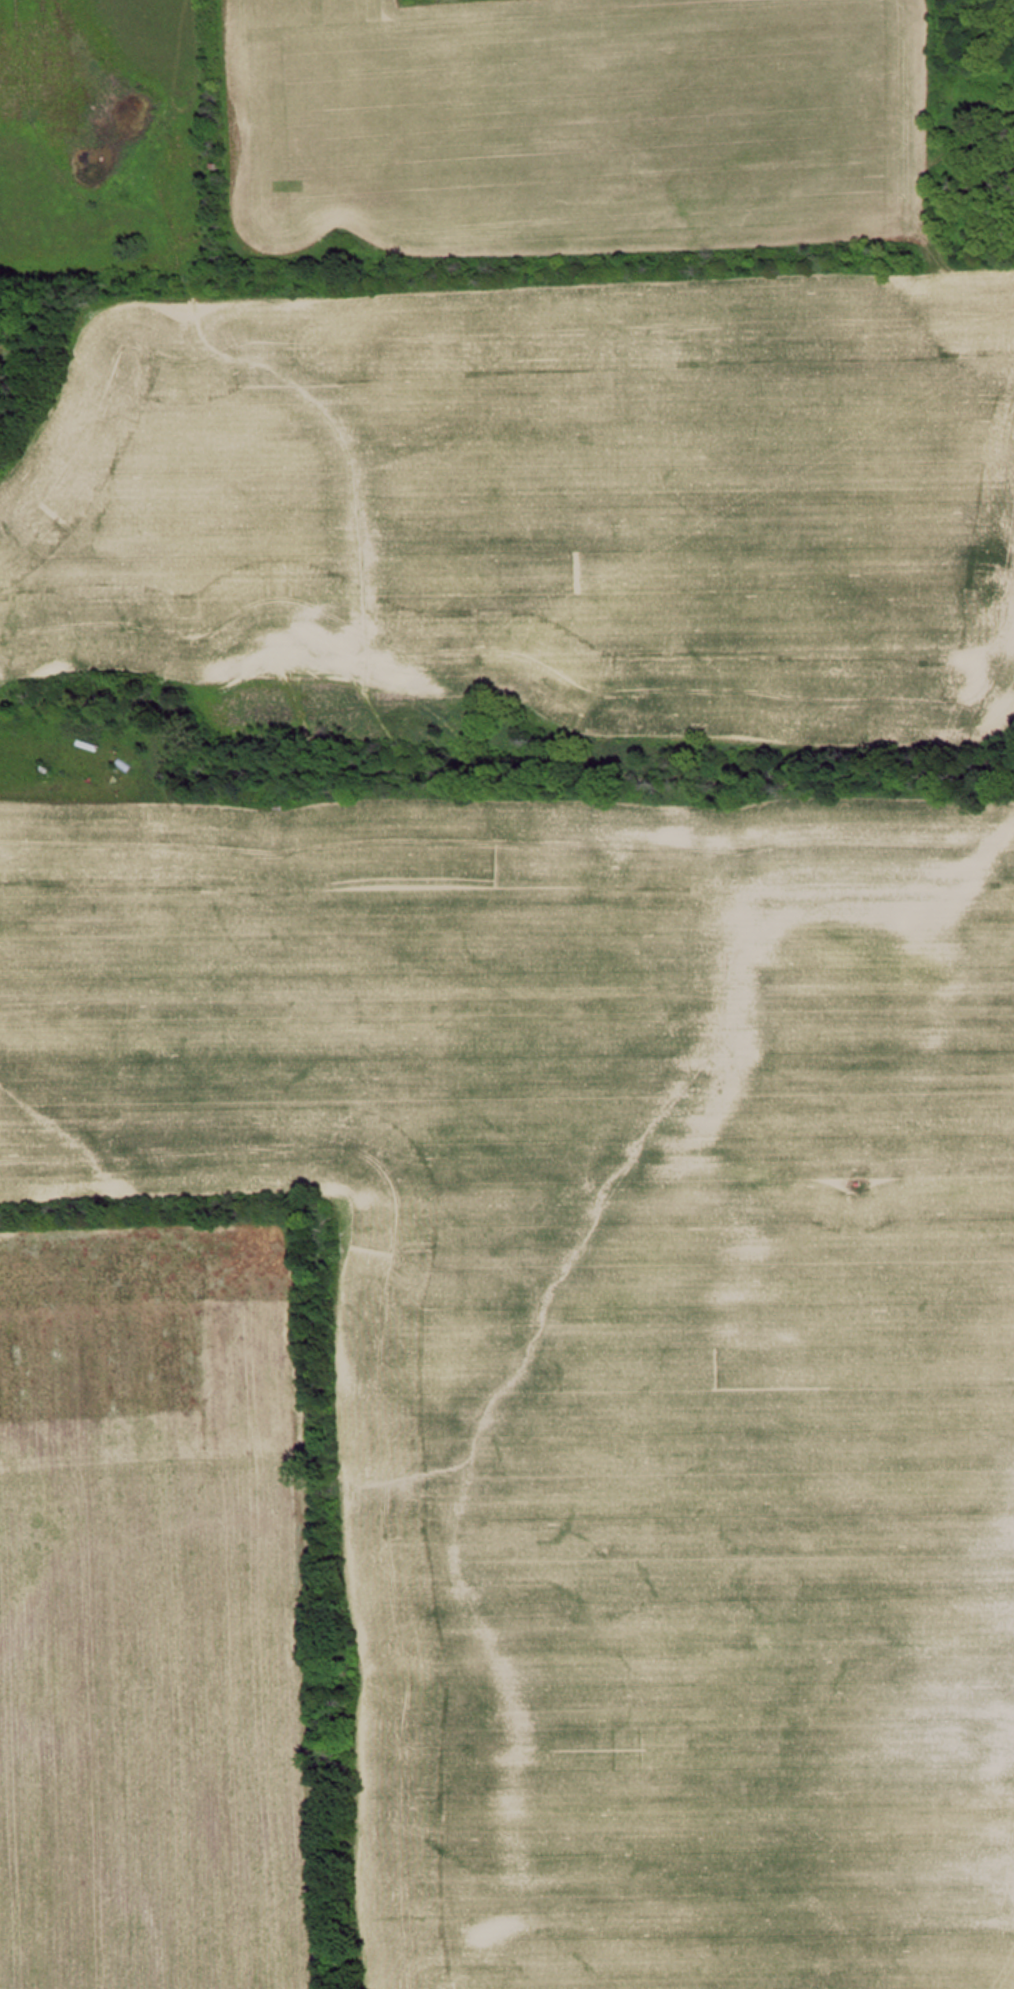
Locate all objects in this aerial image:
road: (637, 320)

